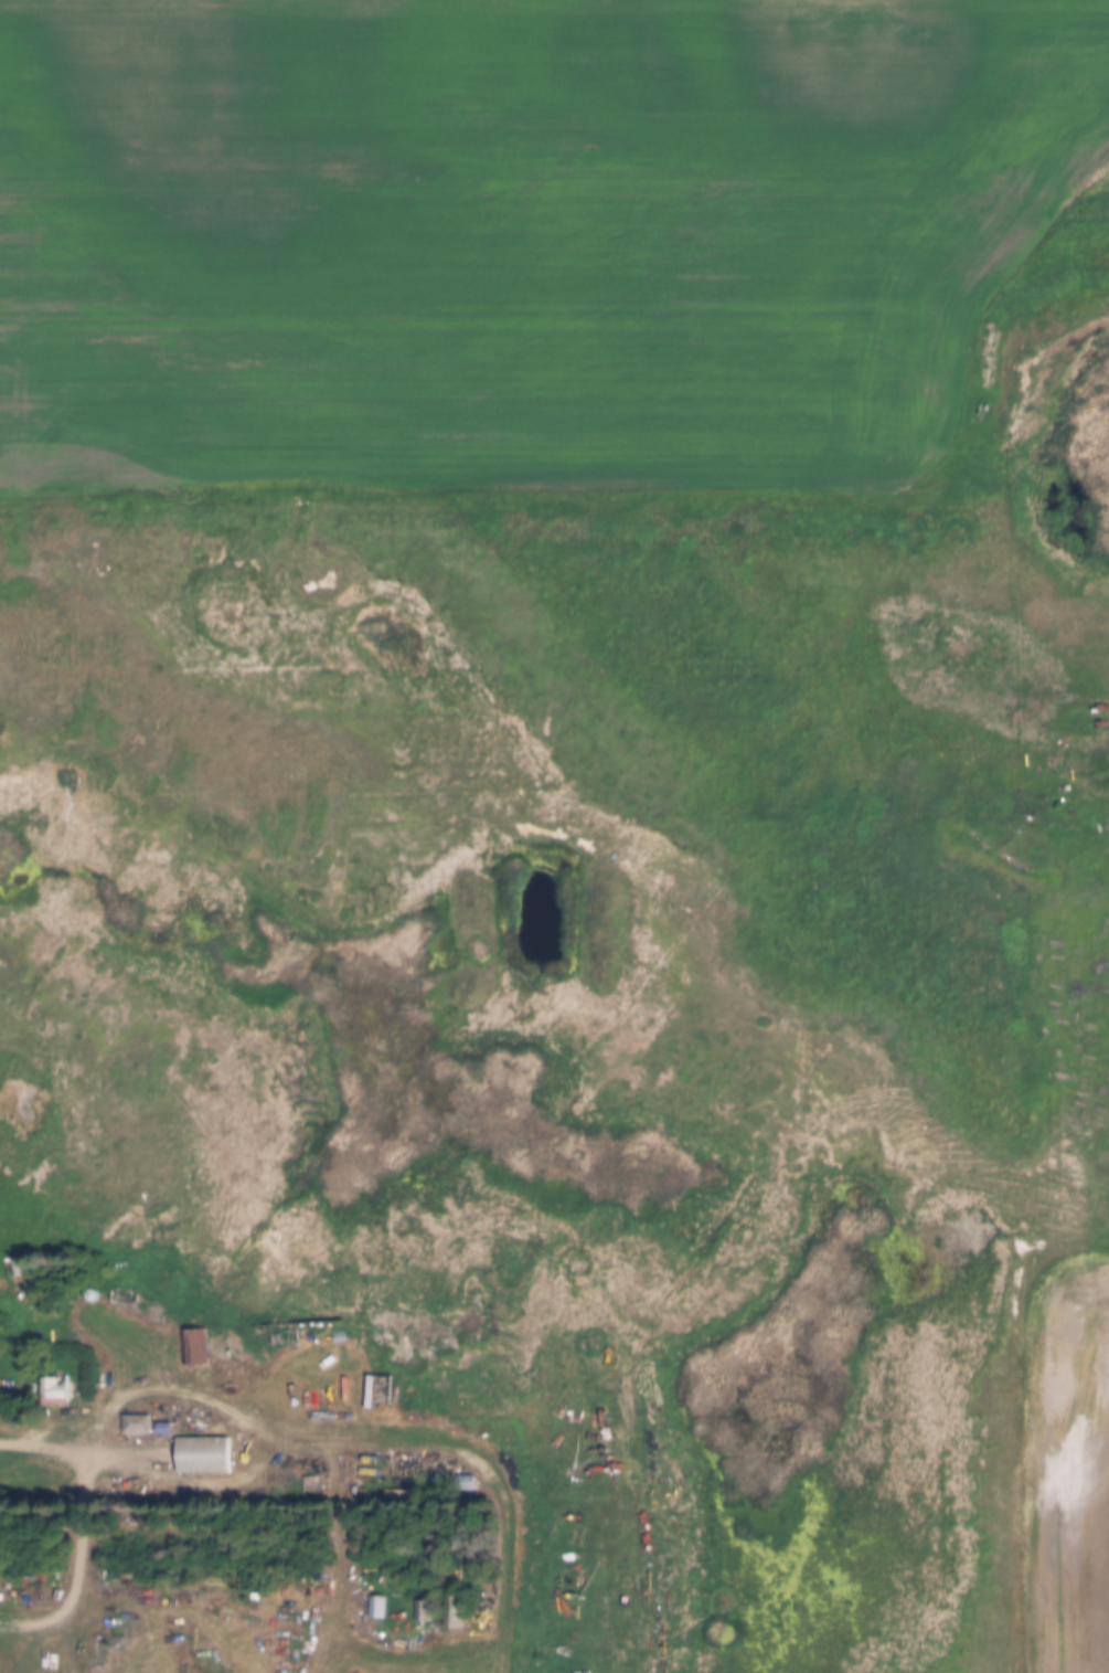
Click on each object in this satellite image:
building: (193, 1349)
road: (145, 1390)
building: (56, 1393)
building: (378, 1394)
building: (135, 1426)
road: (86, 1452)
road: (1014, 1453)
building: (204, 1458)
road: (493, 1475)
building: (375, 1608)
building: (420, 1611)
building: (452, 1613)

